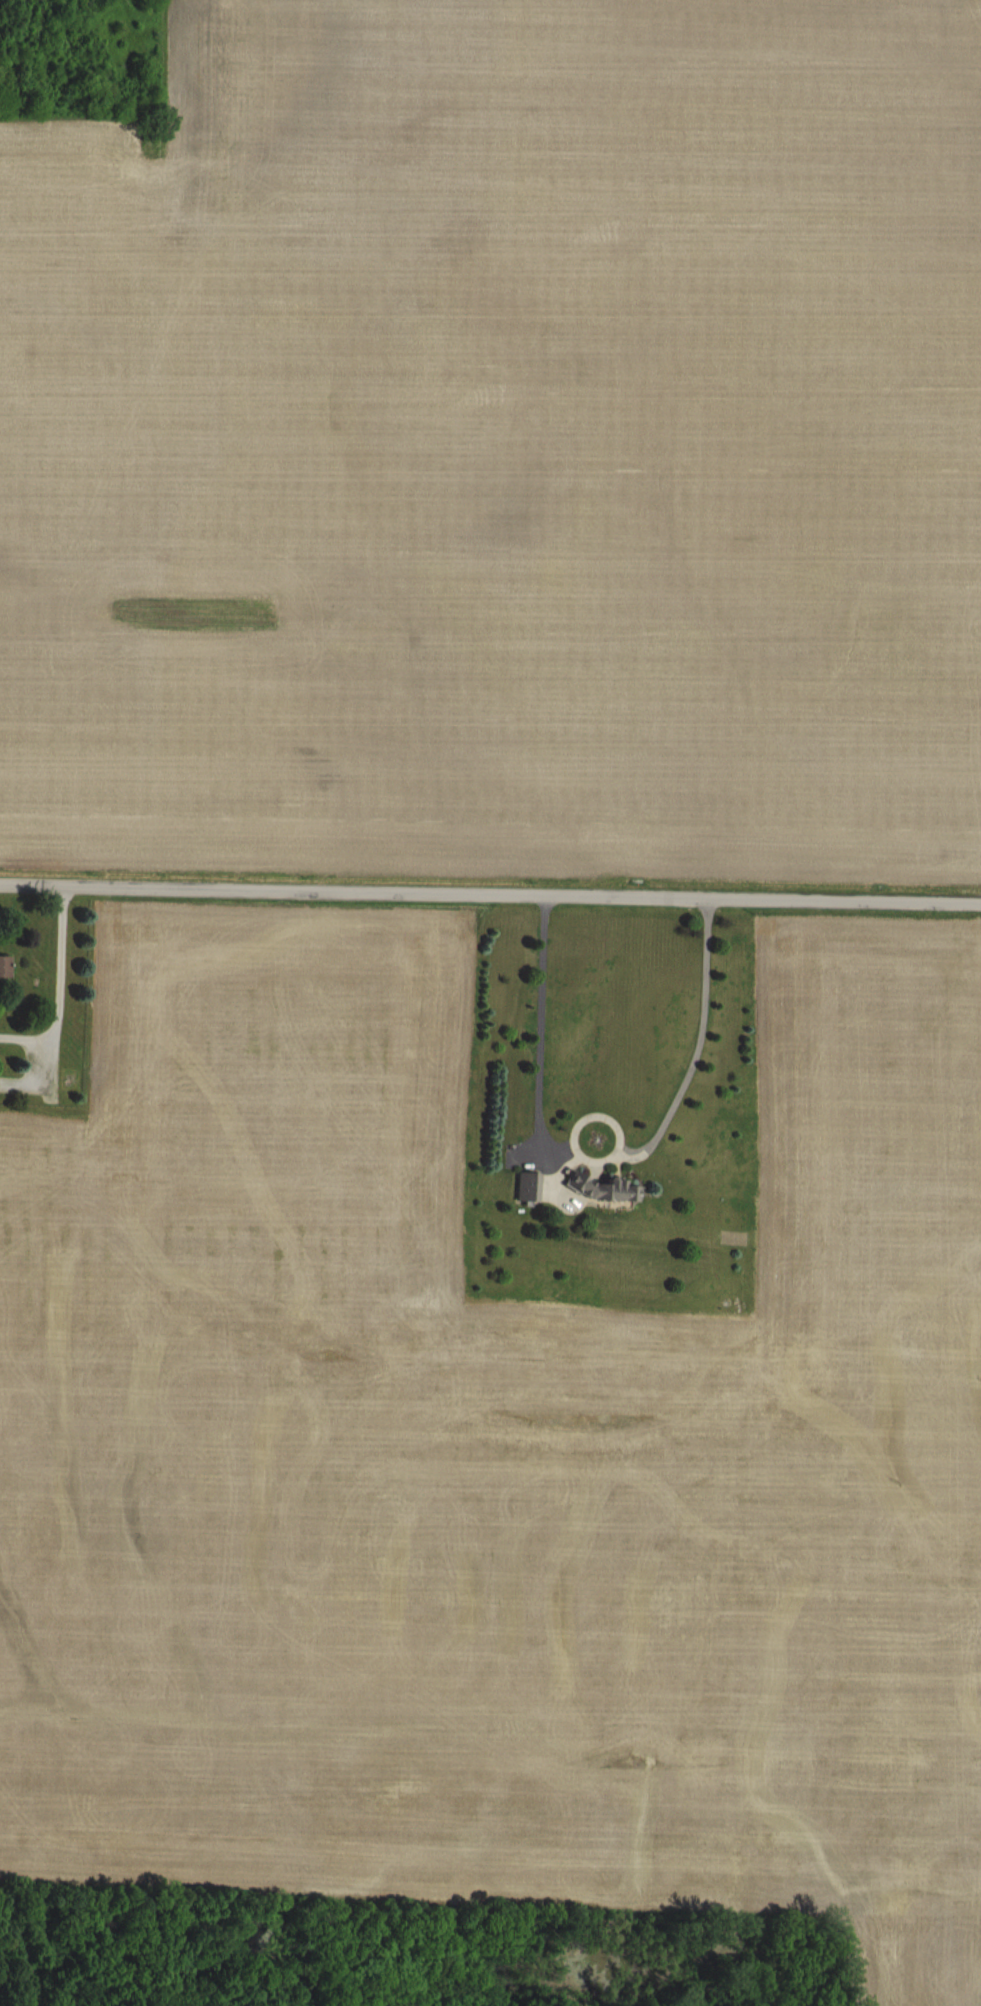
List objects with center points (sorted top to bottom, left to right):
crop: (497, 451)
road: (490, 894)
building: (3, 964)
road: (58, 1000)
road: (599, 1158)
building: (597, 1188)
crop: (486, 1501)

